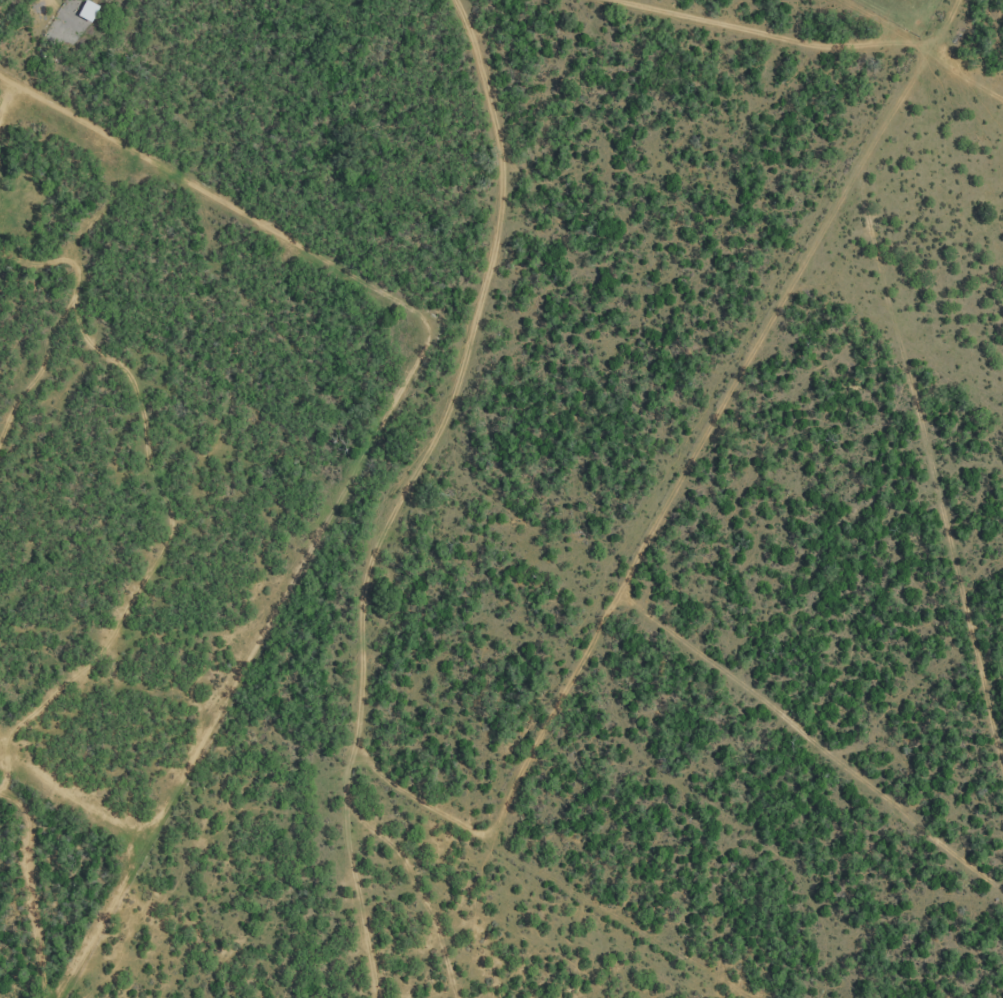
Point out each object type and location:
building: (86, 10)
road: (980, 107)
road: (486, 249)
road: (341, 491)
road: (682, 519)

